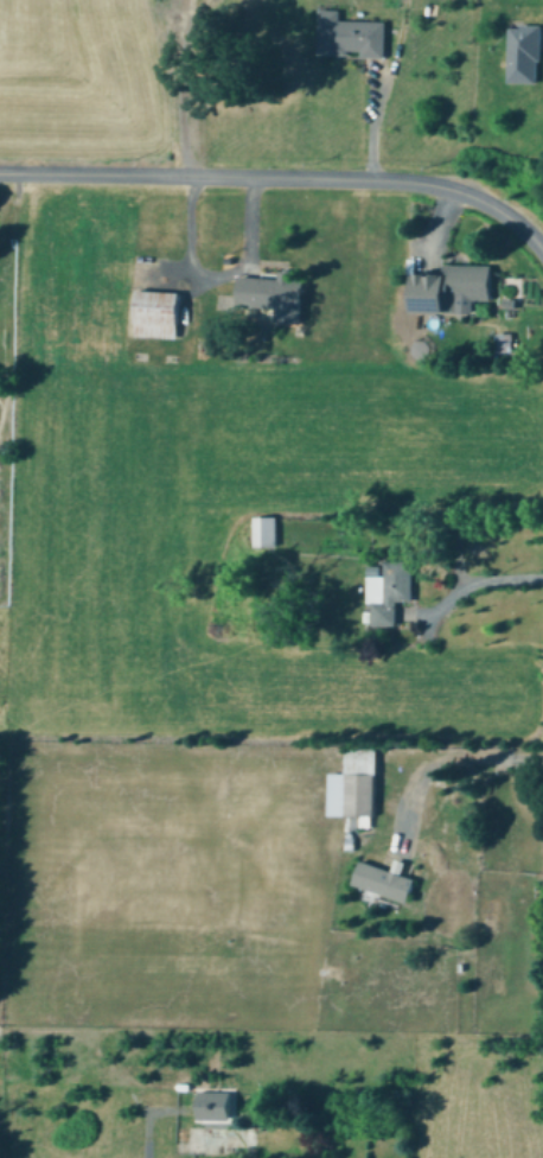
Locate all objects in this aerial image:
building: (352, 33)
building: (526, 52)
road: (373, 88)
road: (282, 178)
road: (207, 275)
building: (458, 286)
building: (275, 289)
building: (159, 311)
building: (266, 529)
road: (481, 583)
building: (390, 588)
road: (454, 759)
building: (389, 878)
building: (213, 1102)

